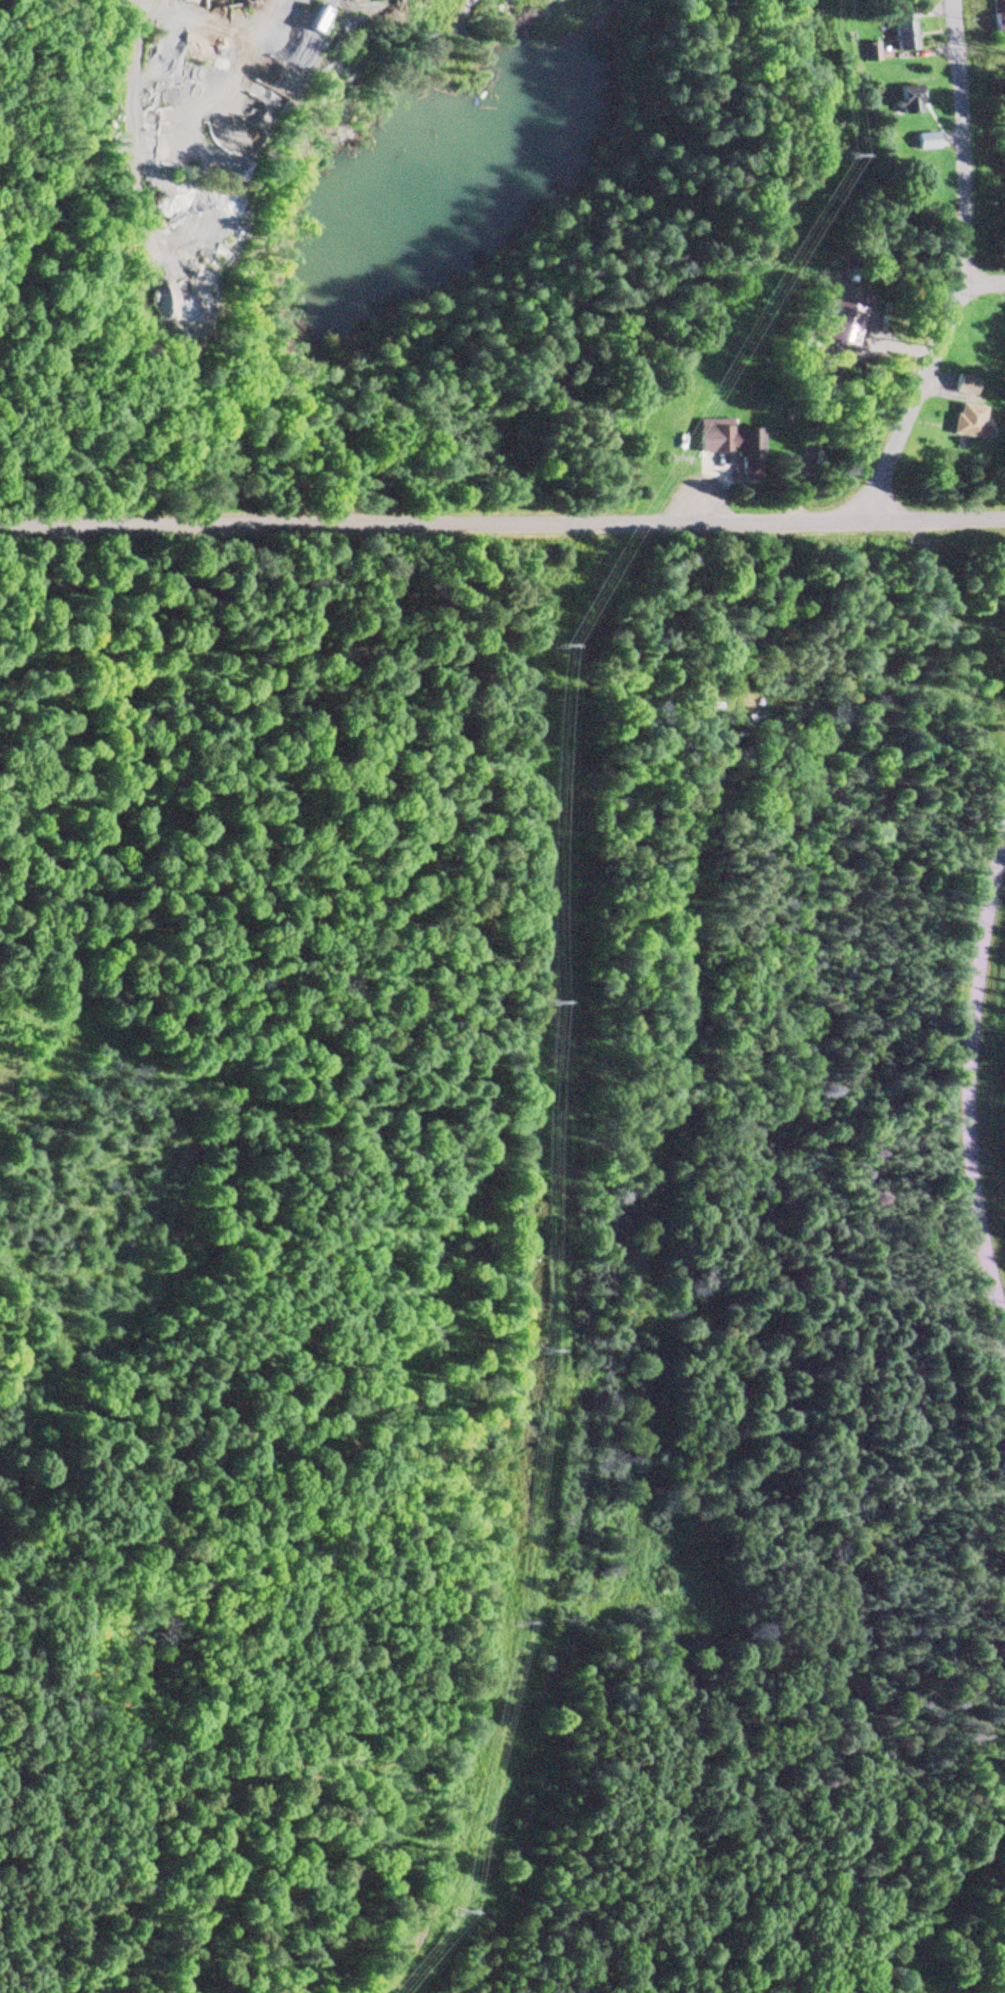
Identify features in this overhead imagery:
building: (995, 20)
building: (898, 30)
building: (866, 53)
building: (904, 102)
building: (922, 143)
power tower: (837, 158)
road: (956, 267)
road: (980, 284)
building: (962, 385)
building: (967, 423)
building: (732, 448)
power tower: (662, 462)
road: (502, 522)
power tower: (554, 646)
power tower: (541, 1003)
road: (970, 1090)
power tower: (535, 1351)
road: (127, 1614)
power tower: (505, 1624)
power tower: (448, 1911)
road: (1004, 1987)

